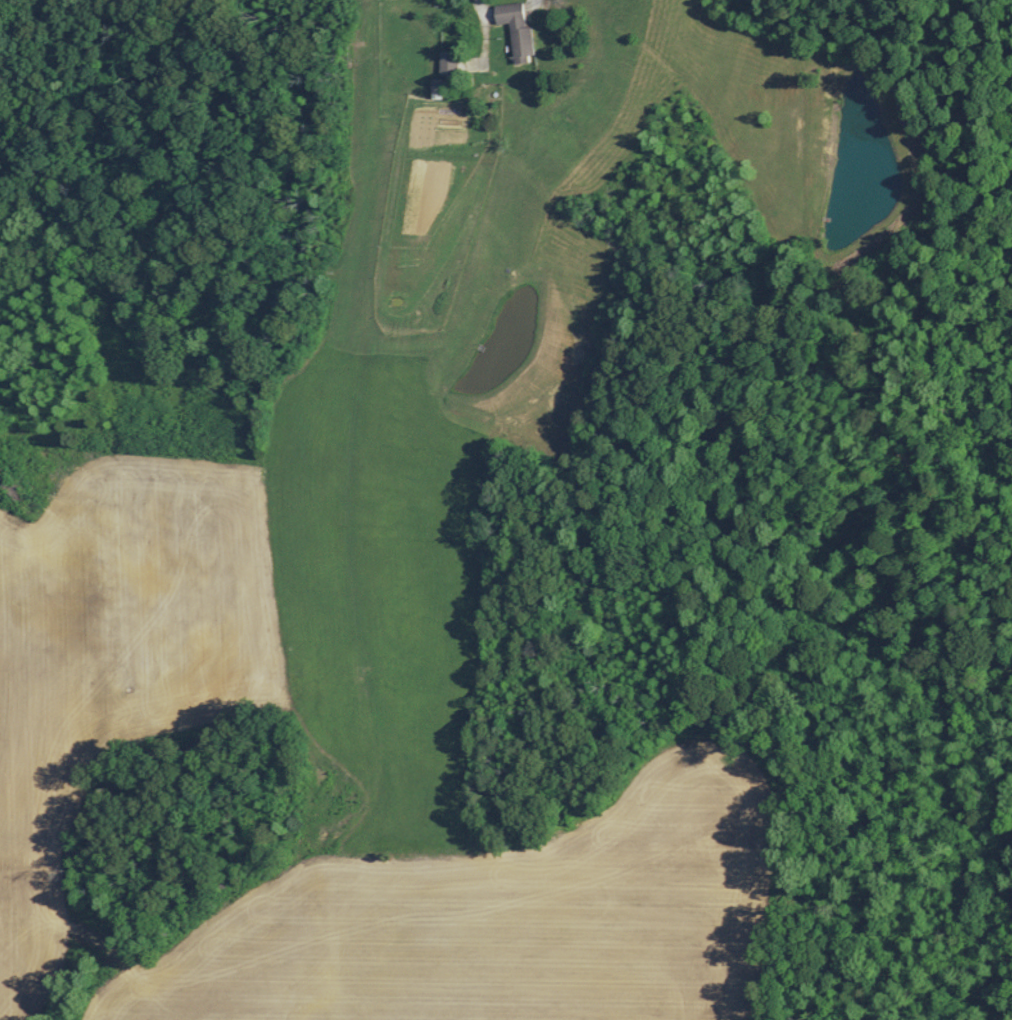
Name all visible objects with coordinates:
building: (513, 29)
building: (446, 62)

